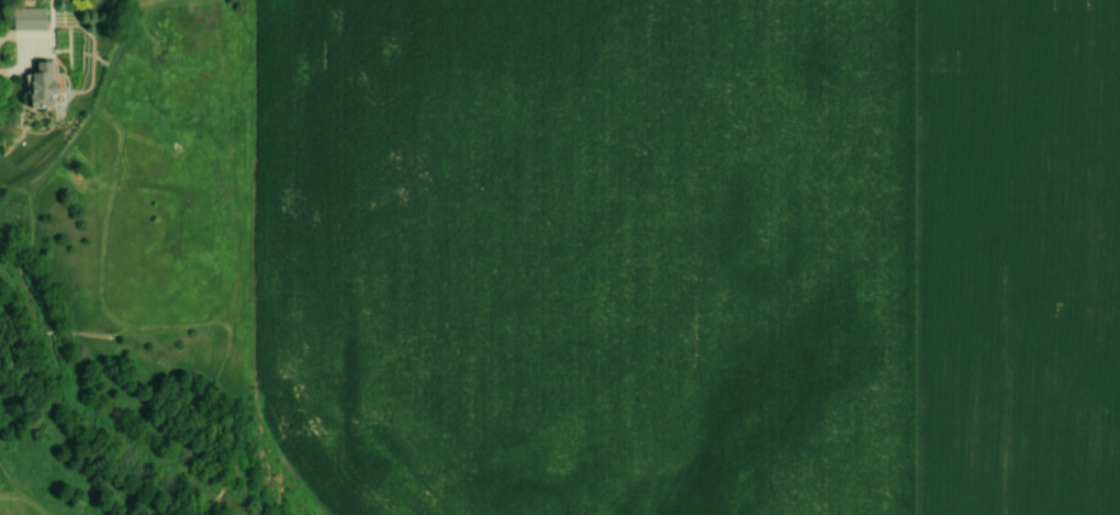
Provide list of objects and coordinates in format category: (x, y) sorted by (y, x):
building: (25, 20)
building: (42, 87)

